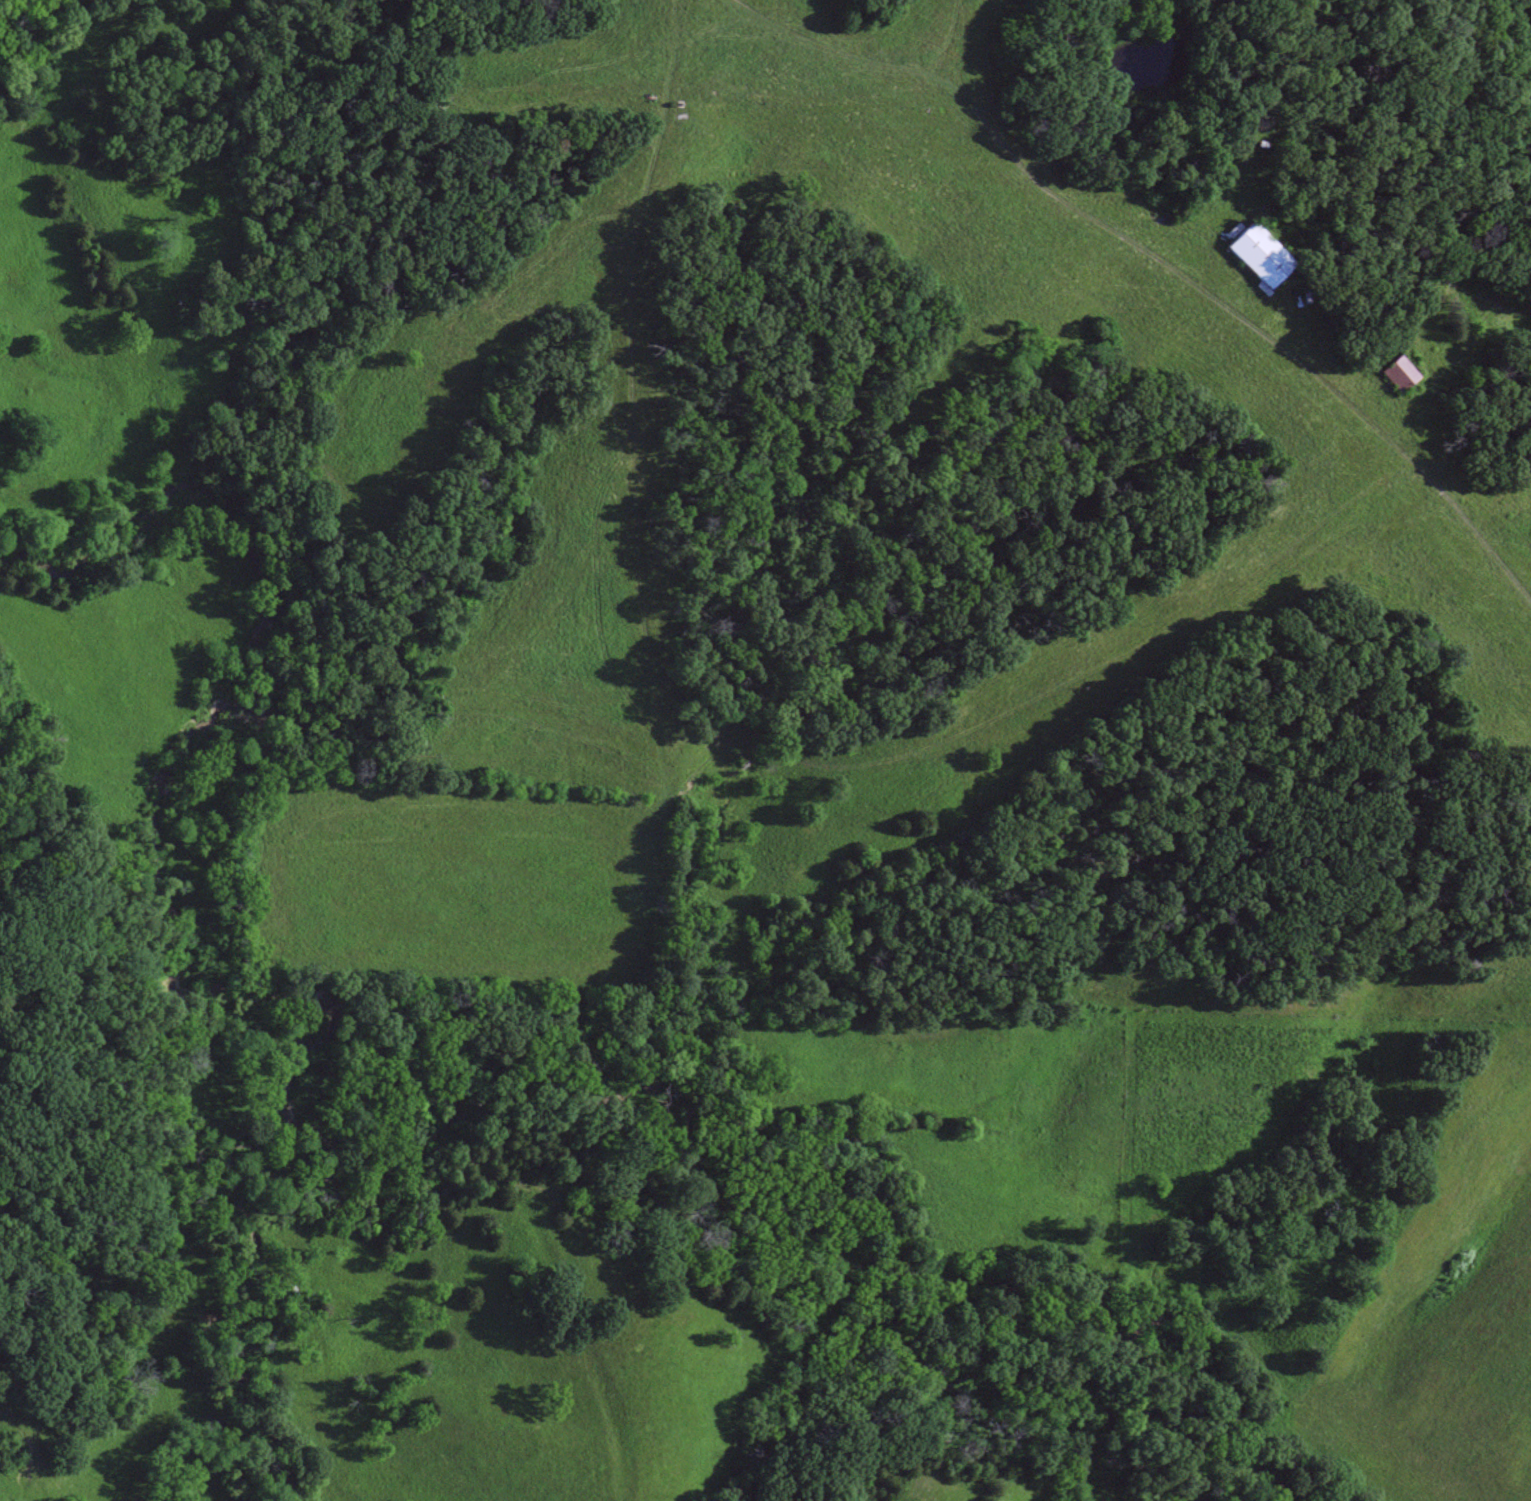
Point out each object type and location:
building: (1260, 254)

